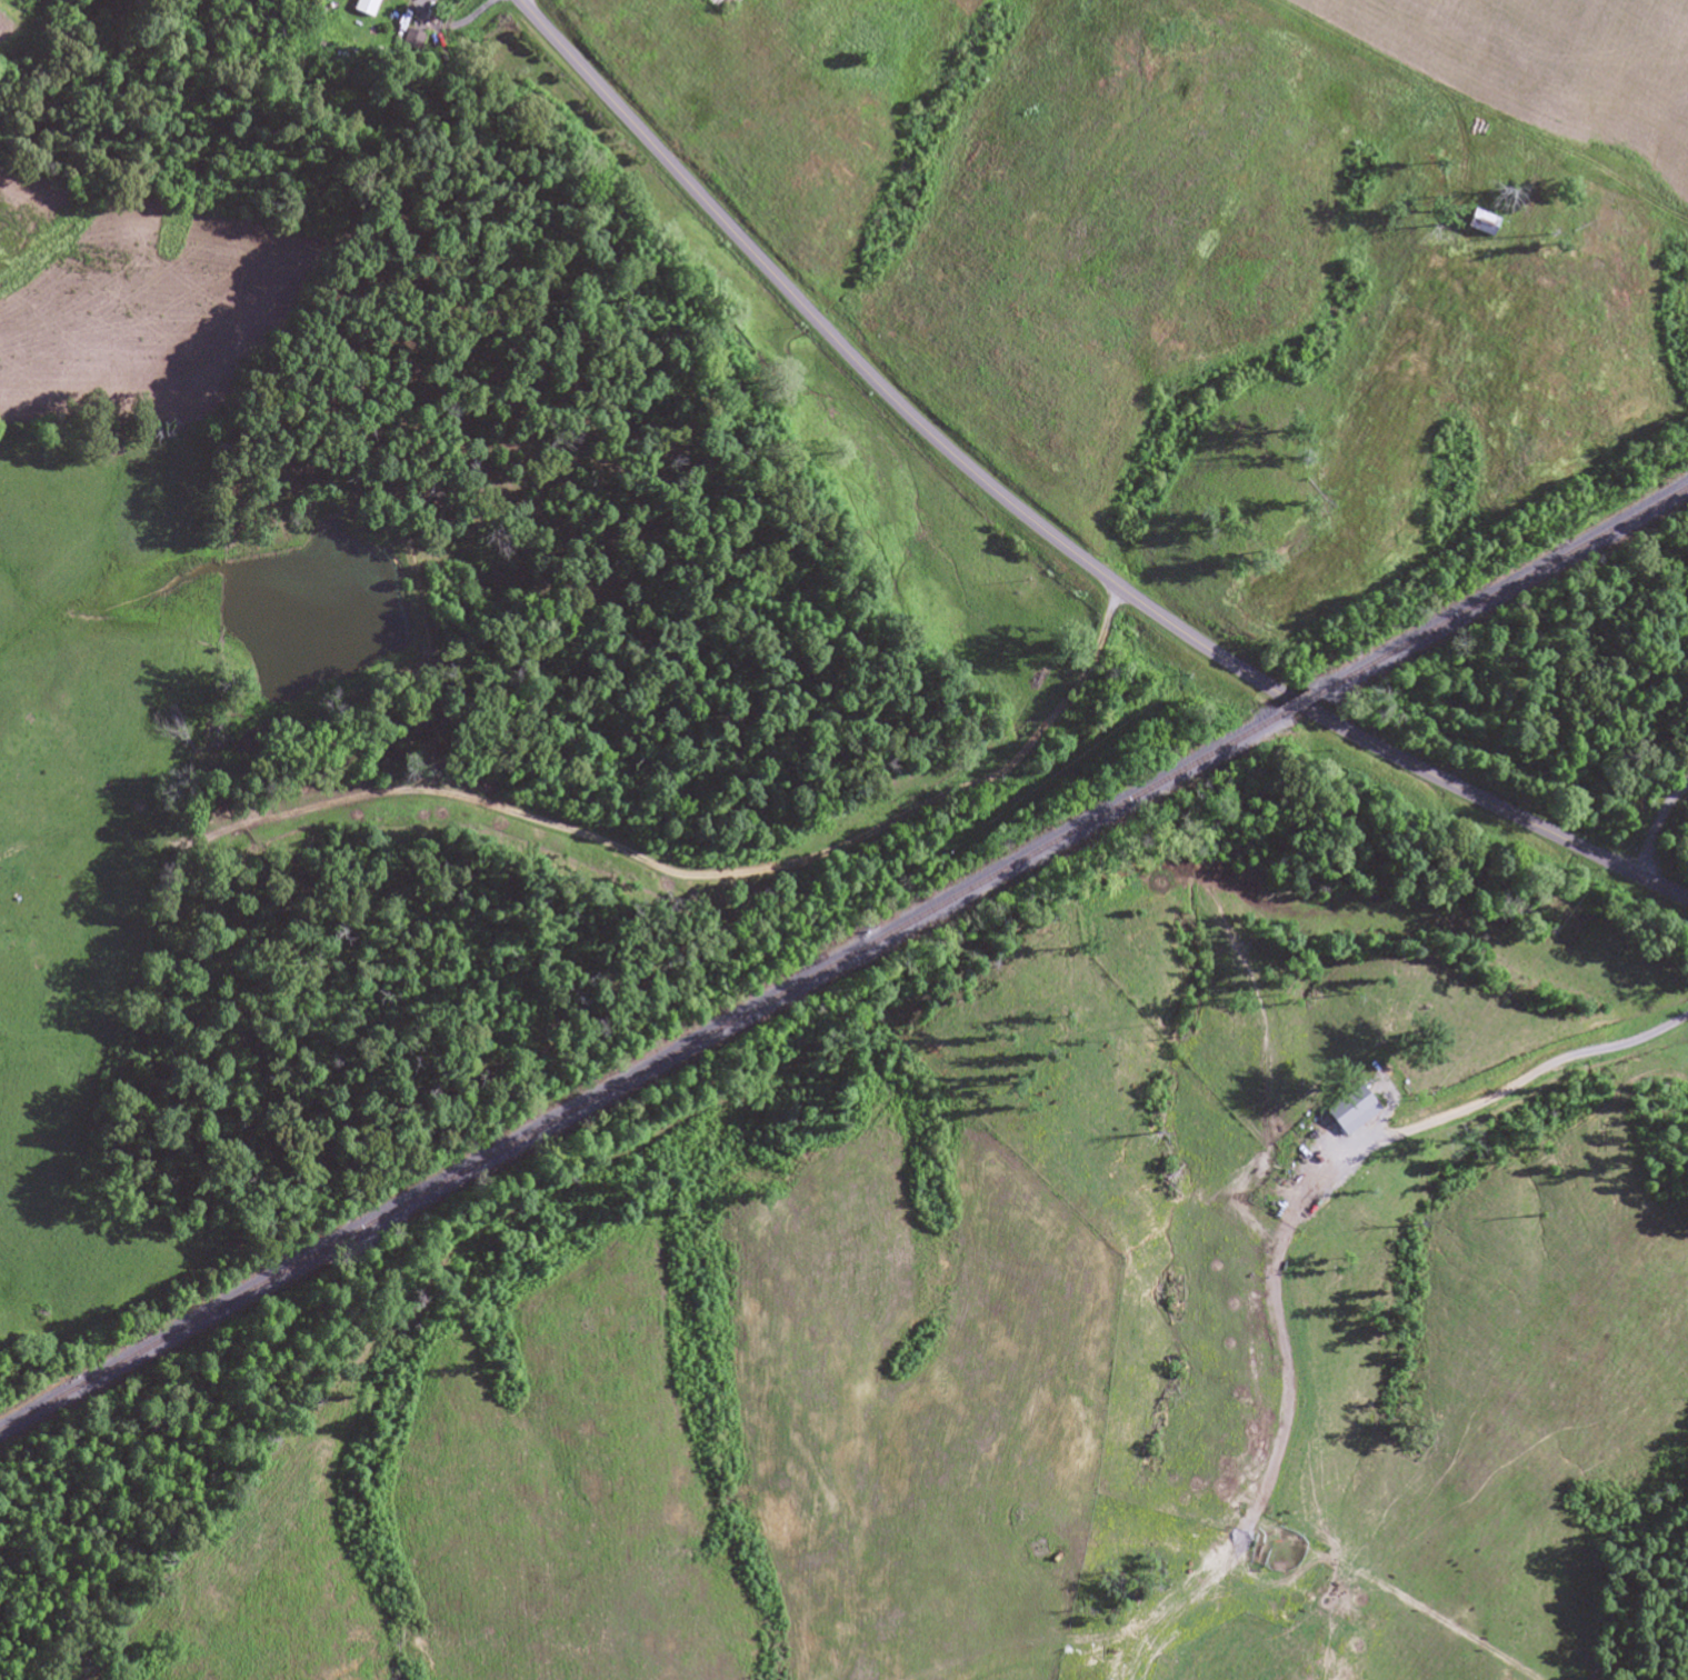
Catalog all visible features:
building: (367, 4)
building: (1490, 224)
road: (1042, 529)
railway: (1499, 590)
road: (1097, 652)
railway: (1297, 704)
road: (1053, 718)
railway: (641, 1071)
road: (1546, 1102)

